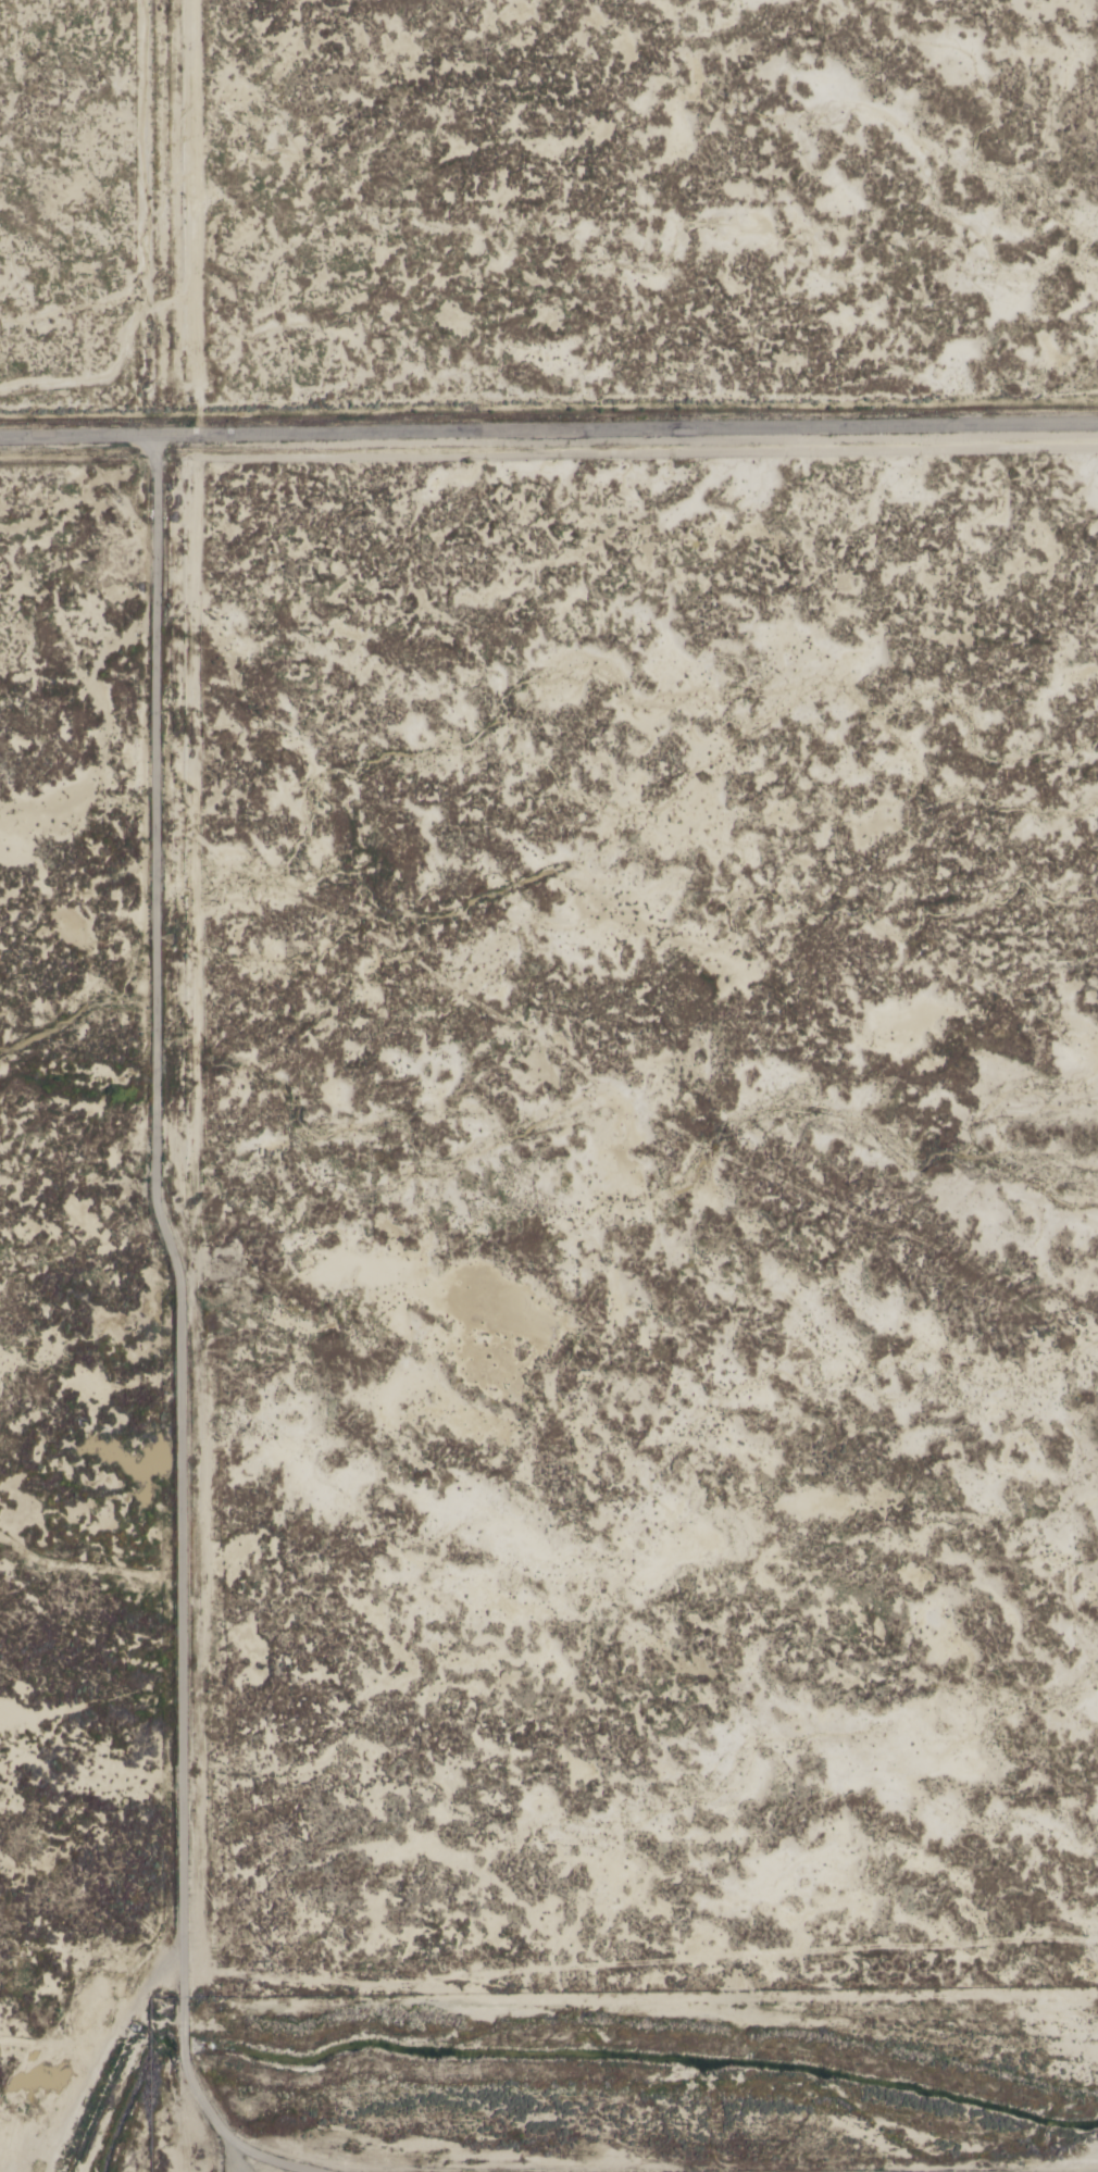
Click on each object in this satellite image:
road: (172, 213)
road: (548, 423)
road: (142, 1299)

